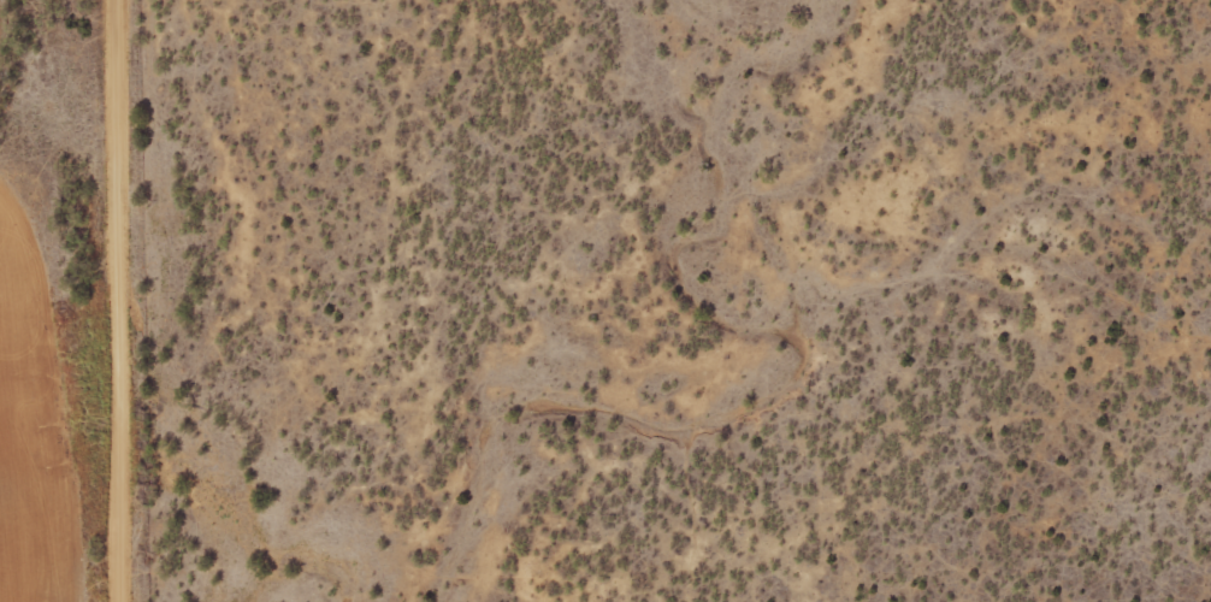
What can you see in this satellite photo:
road: (117, 301)

